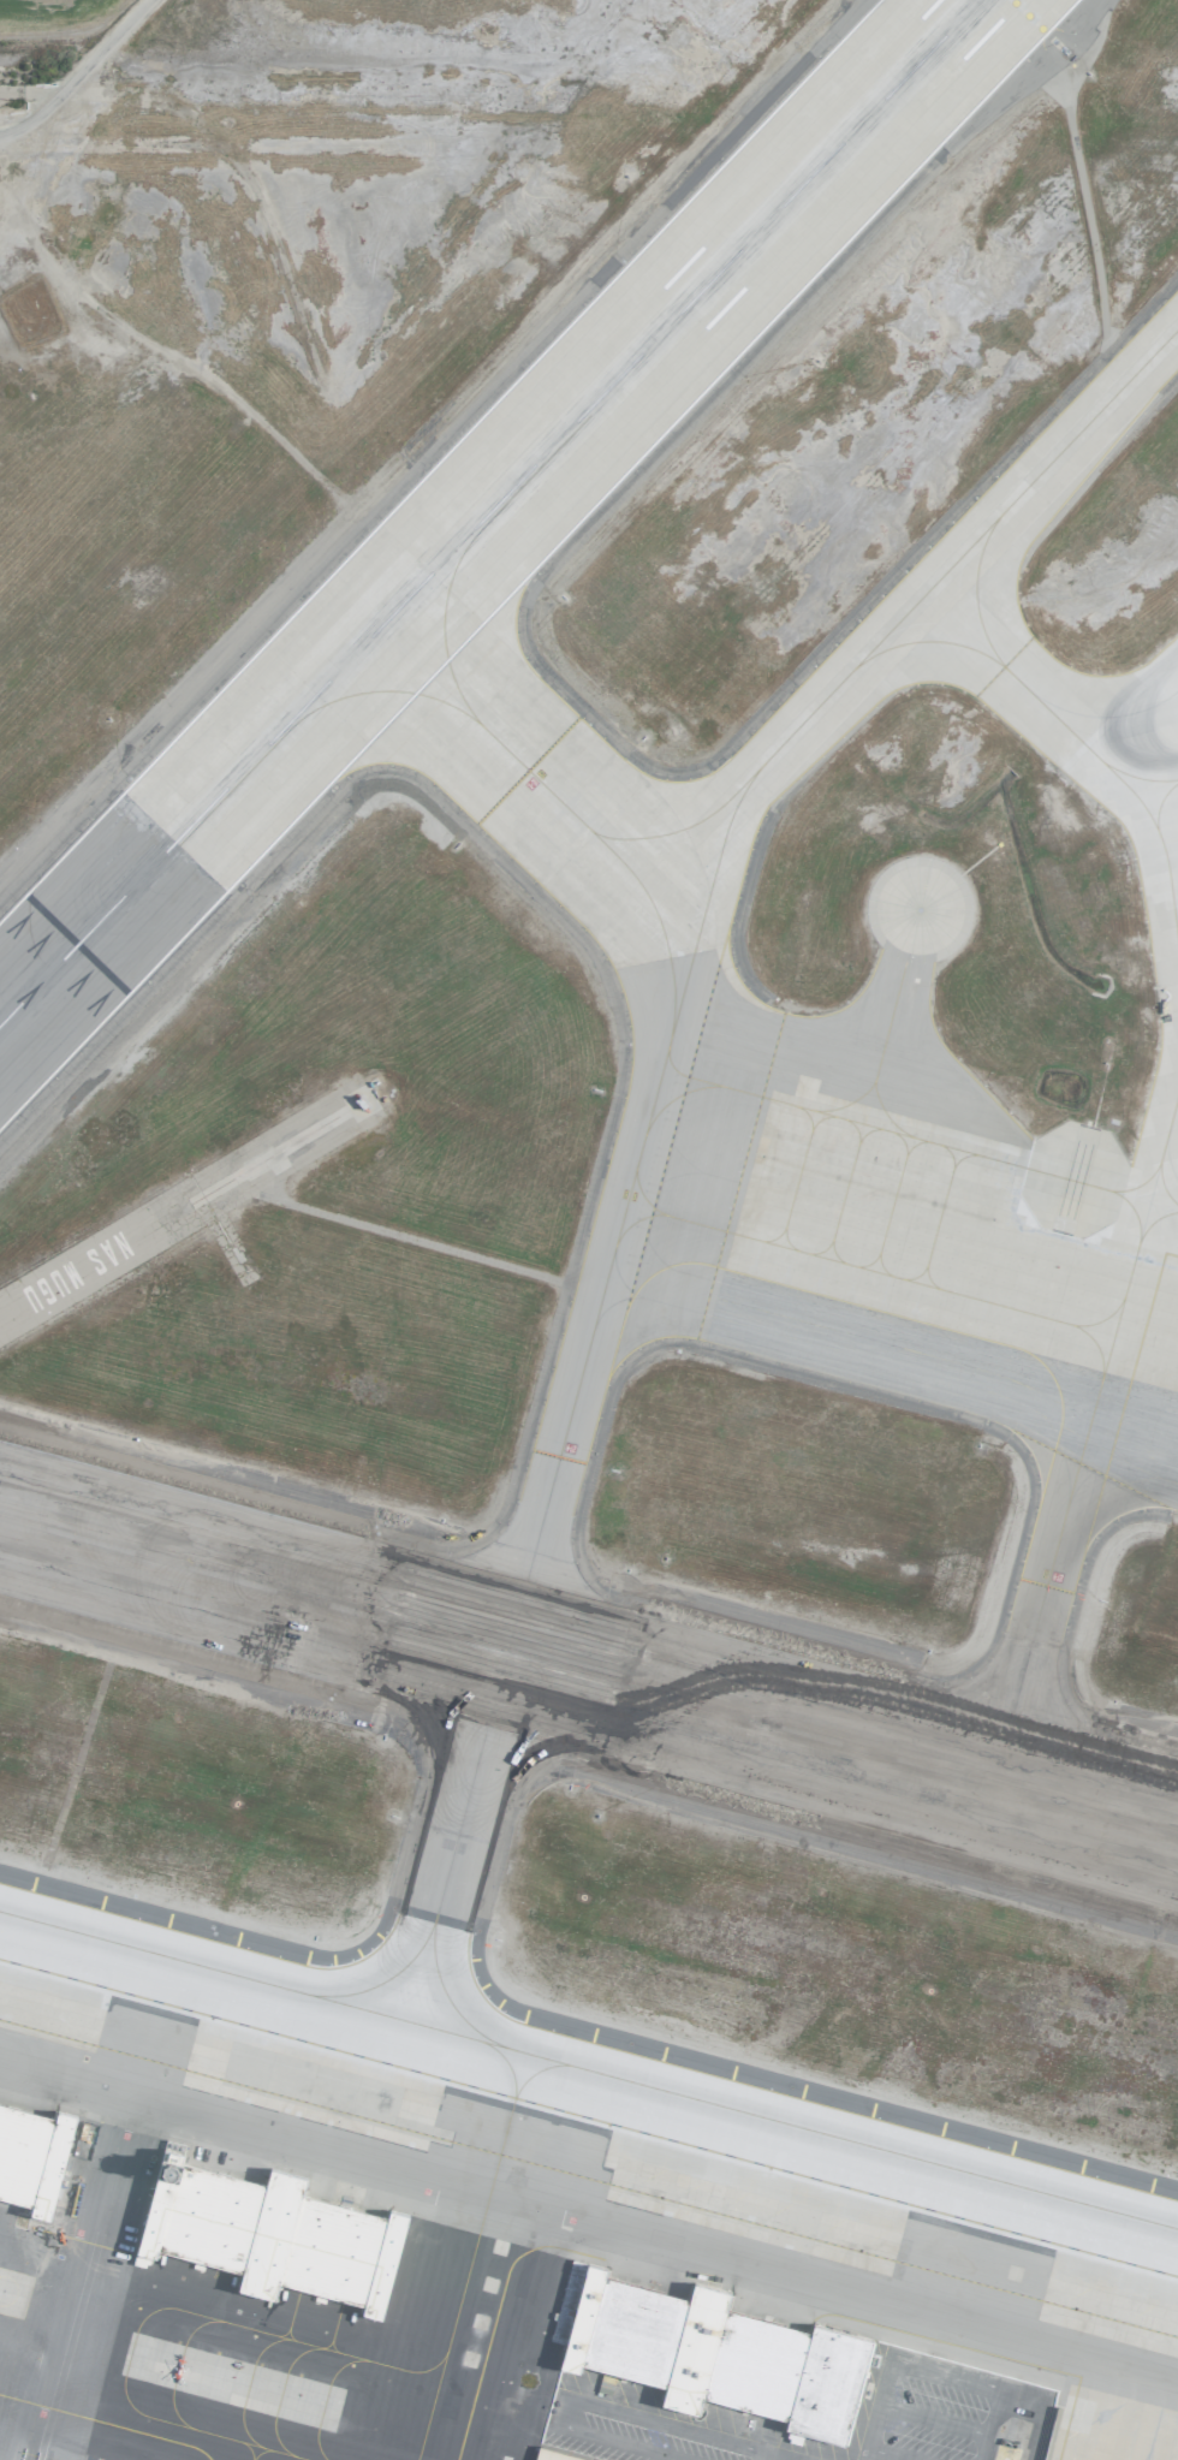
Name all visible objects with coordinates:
park: (48, 38)
road: (76, 72)
road: (29, 91)
road: (432, 456)
airport runway: (492, 515)
airport taxiway: (1009, 671)
airport taxiway: (524, 761)
helipad: (573, 815)
airport taxiway: (664, 903)
airport apron: (942, 1141)
airport: (590, 1232)
airport taxiway: (894, 1368)
airport taxiway: (1051, 1612)
airport runway: (589, 1677)
airport taxiway: (458, 1840)
airport taxiway: (204, 1968)
airport taxiway: (793, 2127)
airport hangar: (31, 2158)
building: (31, 2158)
airport apron: (615, 2195)
airport hangar: (270, 2234)
building: (270, 2234)
road: (50, 2346)
airport hangar: (707, 2351)
building: (707, 2351)
airport apron: (339, 2358)
road: (939, 2373)
road: (606, 2410)
road: (871, 2418)
road: (930, 2420)
road: (988, 2424)
road: (886, 2454)
building: (552, 2455)
road: (783, 2459)

